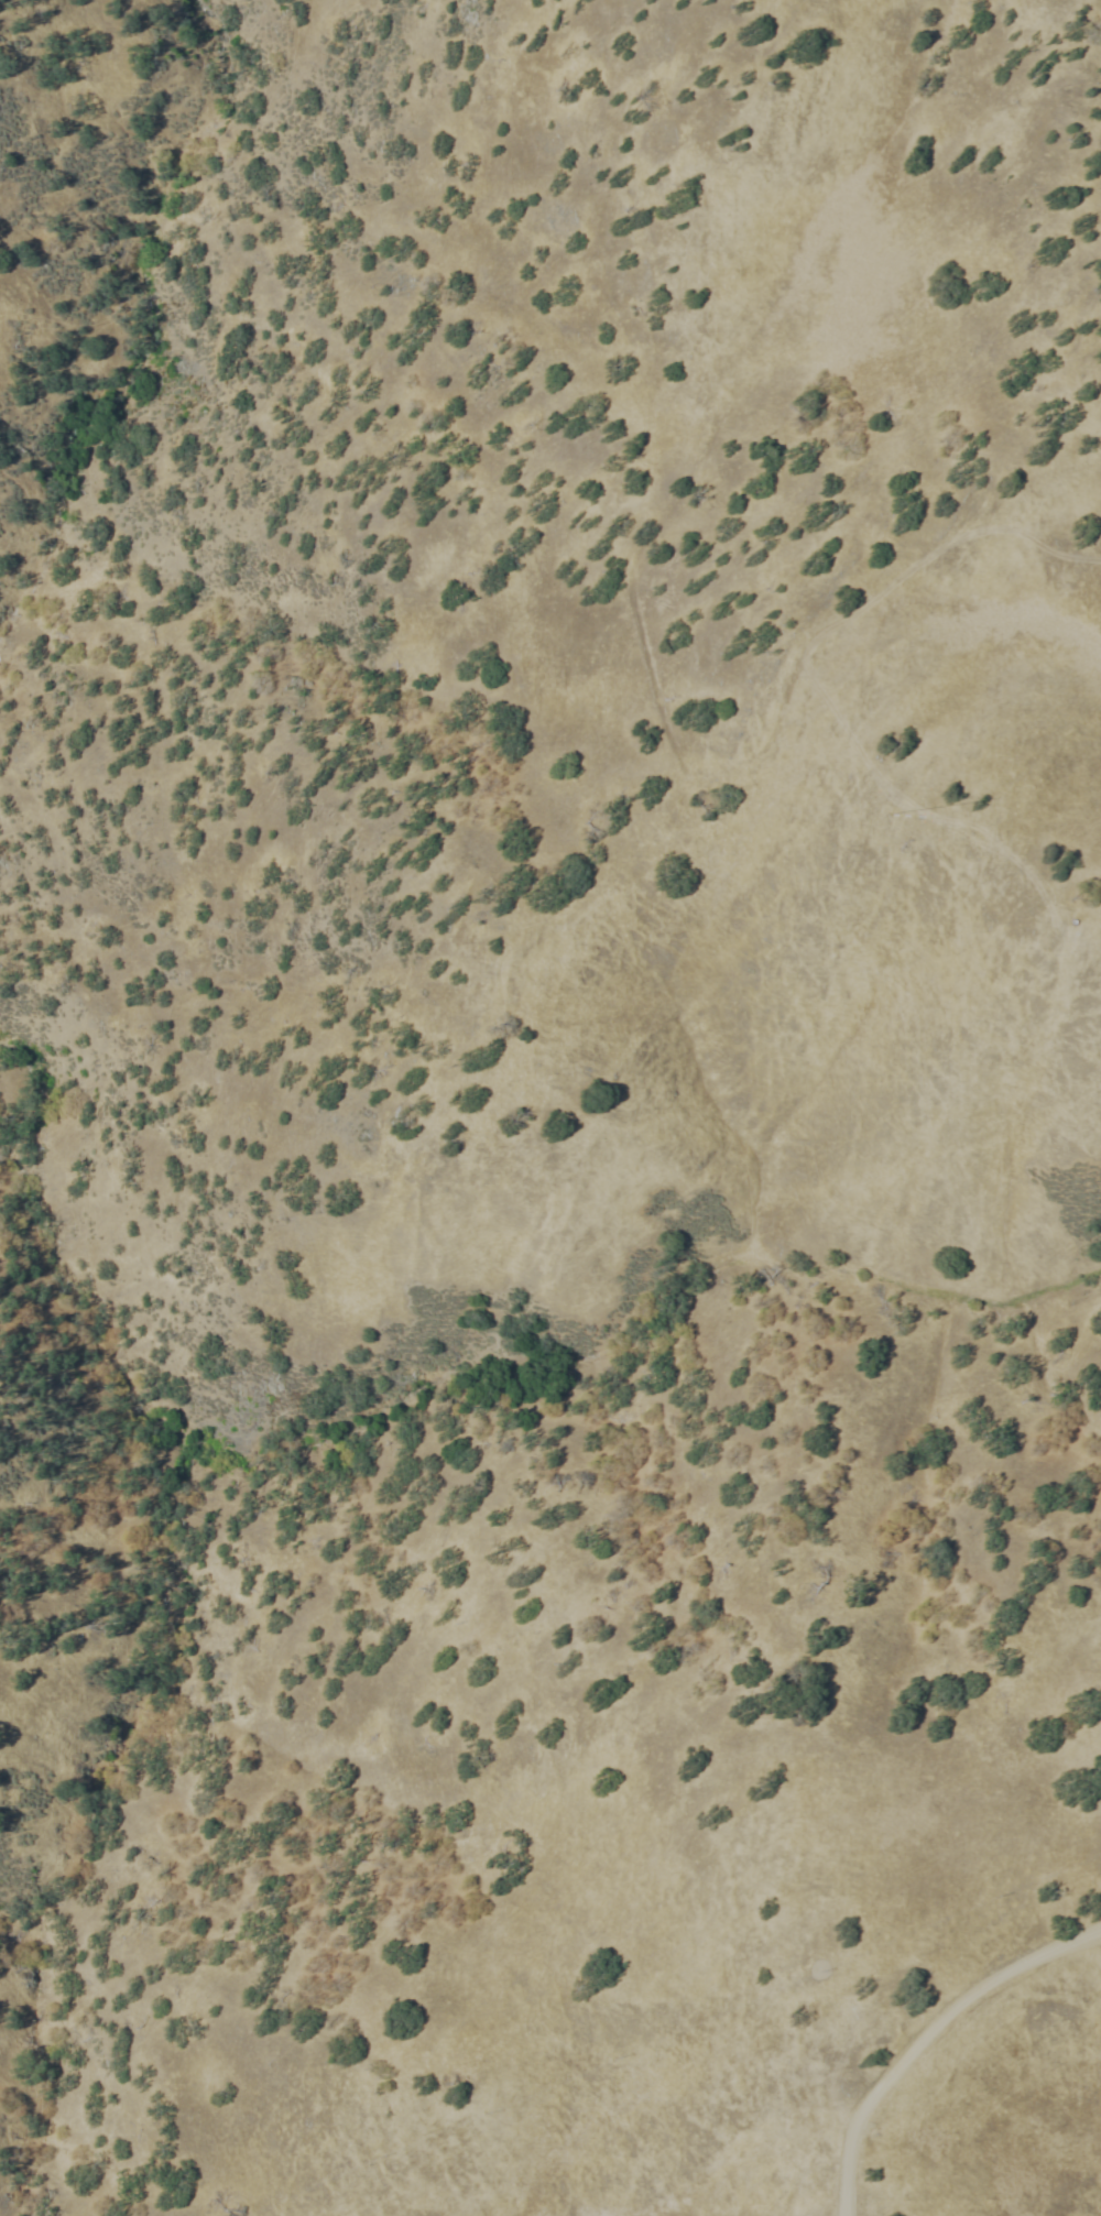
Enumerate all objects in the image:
road: (848, 615)
road: (647, 669)
road: (925, 2034)

